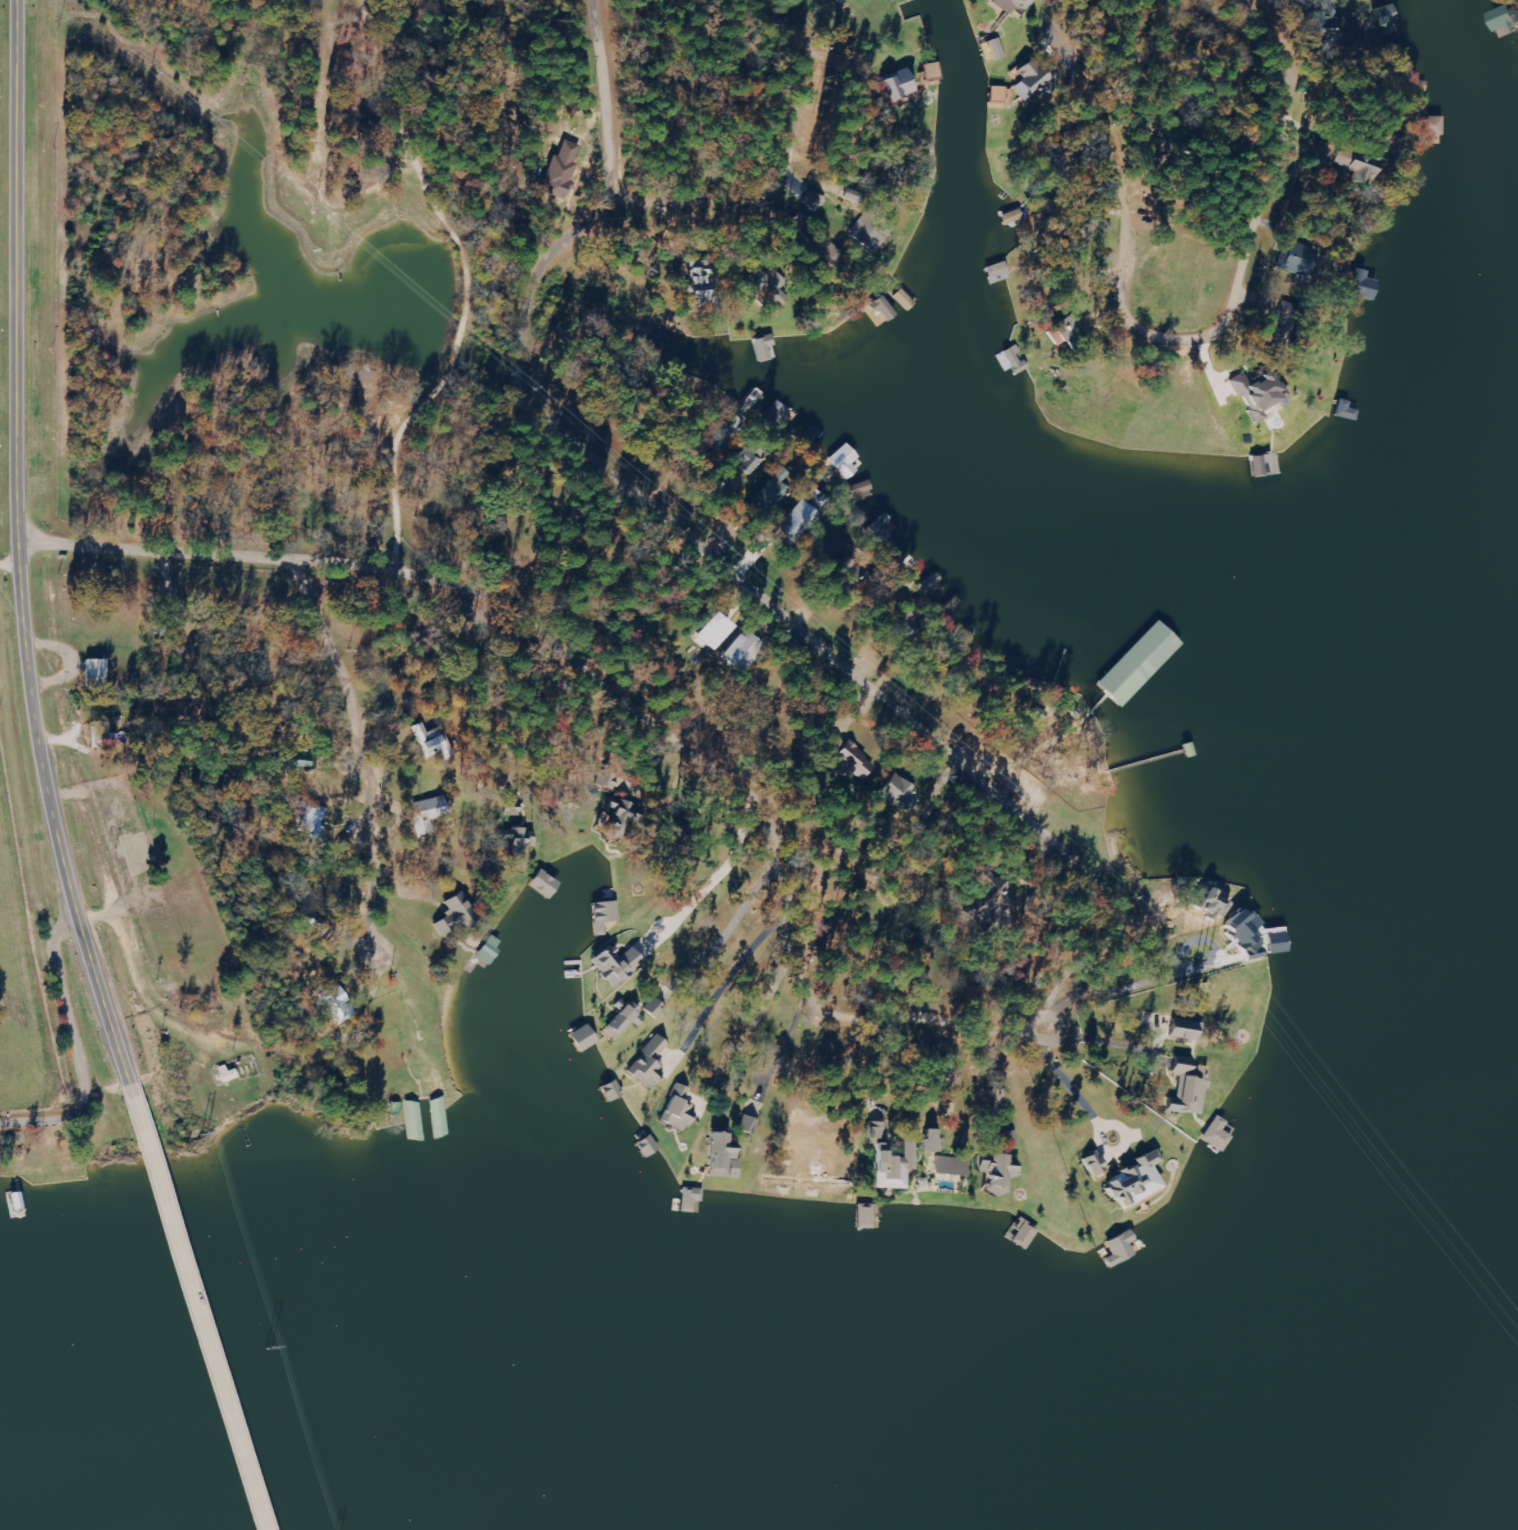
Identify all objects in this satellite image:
building: (1019, 3)
building: (1504, 19)
building: (997, 50)
building: (1030, 80)
building: (895, 85)
building: (997, 94)
building: (1429, 129)
building: (1376, 134)
road: (777, 155)
building: (1358, 167)
building: (558, 173)
building: (812, 202)
building: (875, 235)
building: (1293, 259)
road: (1172, 283)
building: (692, 285)
building: (1362, 285)
building: (1063, 331)
building: (765, 349)
building: (1254, 394)
building: (726, 428)
building: (844, 462)
building: (860, 489)
building: (772, 492)
road: (676, 534)
road: (17, 557)
building: (705, 633)
building: (736, 653)
building: (94, 676)
road: (650, 709)
building: (105, 735)
building: (436, 744)
building: (851, 761)
building: (896, 793)
building: (426, 815)
building: (623, 815)
building: (315, 821)
building: (542, 883)
building: (452, 916)
building: (613, 964)
building: (333, 1003)
building: (652, 1008)
road: (49, 1010)
building: (1183, 1030)
building: (581, 1039)
building: (648, 1063)
building: (226, 1074)
building: (1187, 1087)
building: (678, 1109)
building: (414, 1120)
building: (876, 1130)
building: (1216, 1134)
road: (701, 1140)
building: (722, 1156)
building: (951, 1166)
building: (891, 1167)
building: (996, 1172)
building: (1132, 1181)
building: (690, 1198)
building: (865, 1217)
building: (1118, 1248)
road: (186, 1317)

